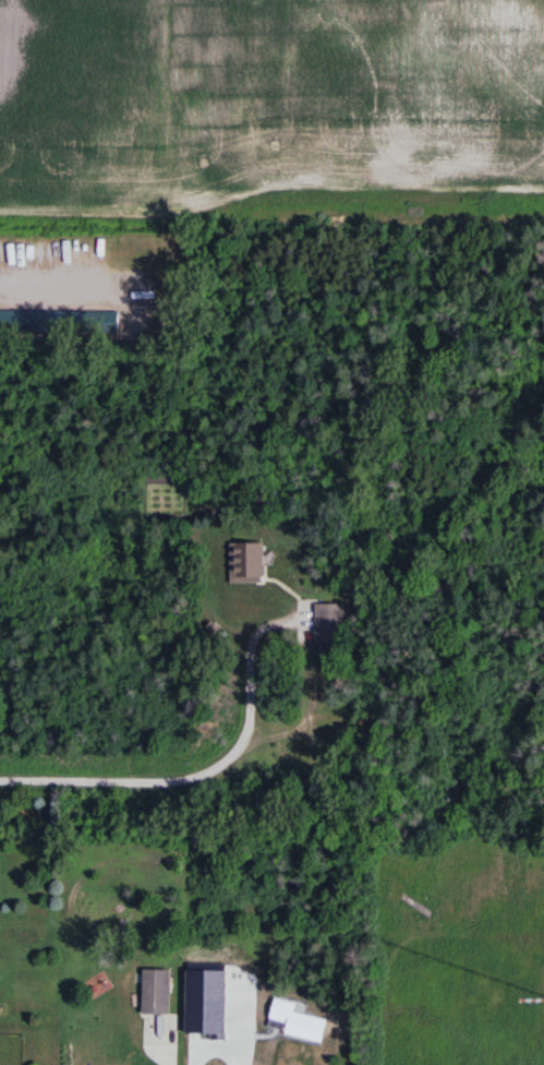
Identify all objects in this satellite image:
road: (56, 278)
building: (27, 321)
building: (95, 322)
building: (247, 564)
building: (331, 631)
road: (204, 762)
building: (157, 993)
road: (262, 1042)

